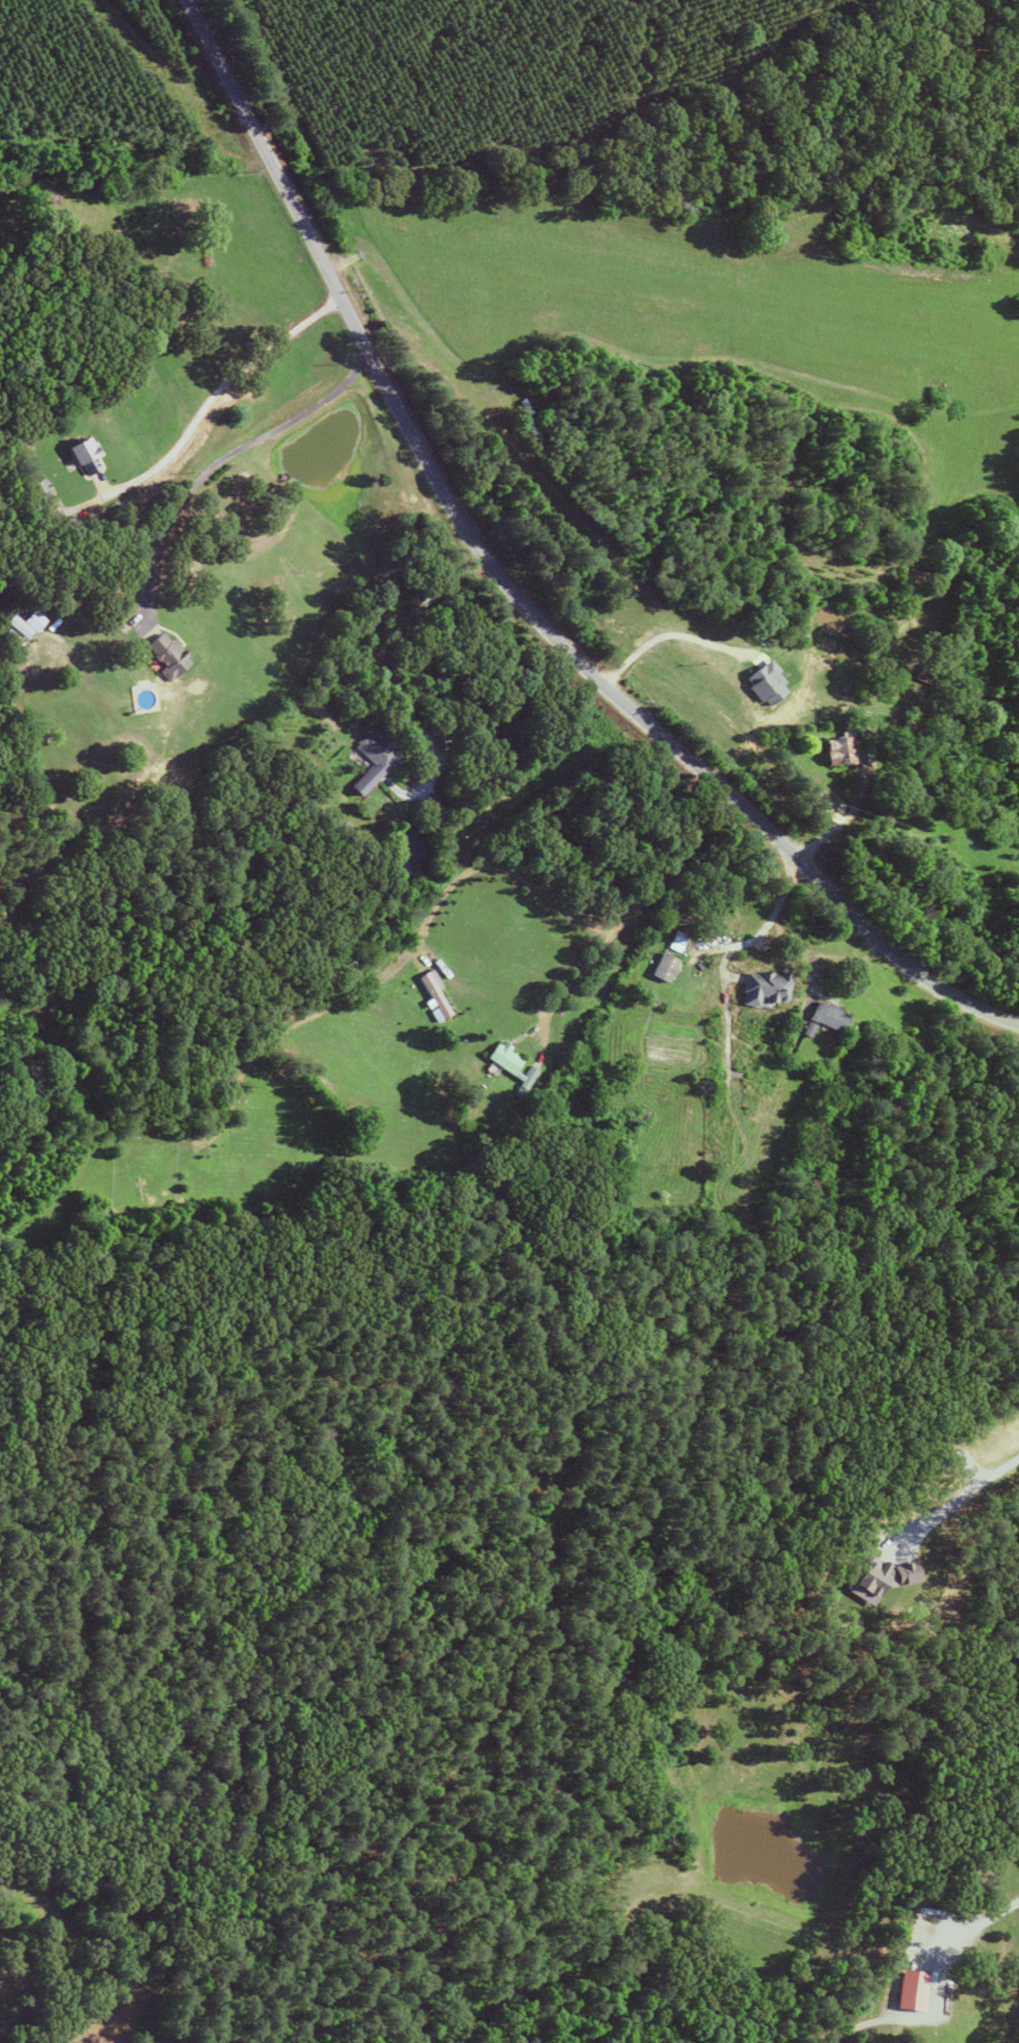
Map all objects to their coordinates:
road: (170, 356)
building: (82, 456)
road: (224, 459)
building: (37, 490)
road: (509, 587)
building: (166, 654)
building: (922, 674)
road: (385, 681)
building: (835, 751)
building: (373, 760)
road: (500, 867)
road: (632, 911)
building: (661, 967)
building: (757, 987)
building: (433, 997)
building: (823, 1015)
building: (504, 1058)
road: (967, 1495)
road: (973, 1931)
building: (905, 1991)

